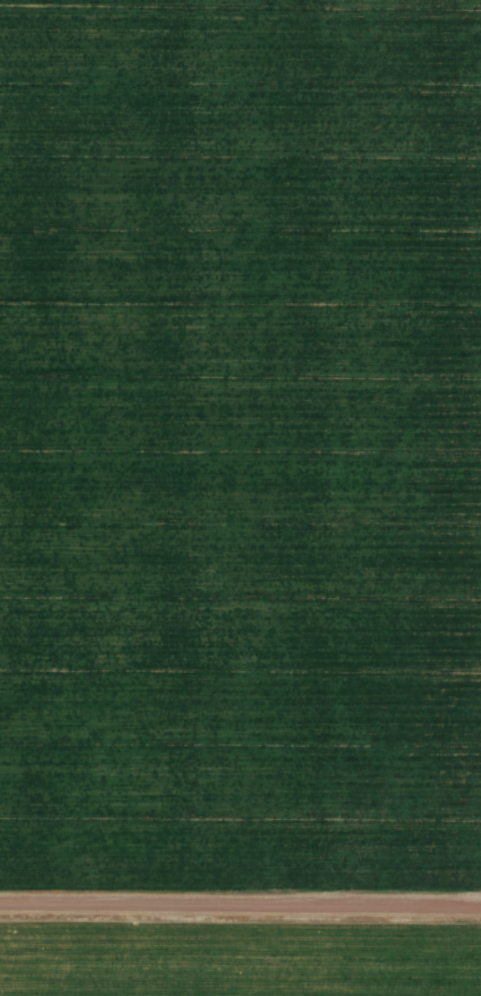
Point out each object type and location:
road: (240, 912)

